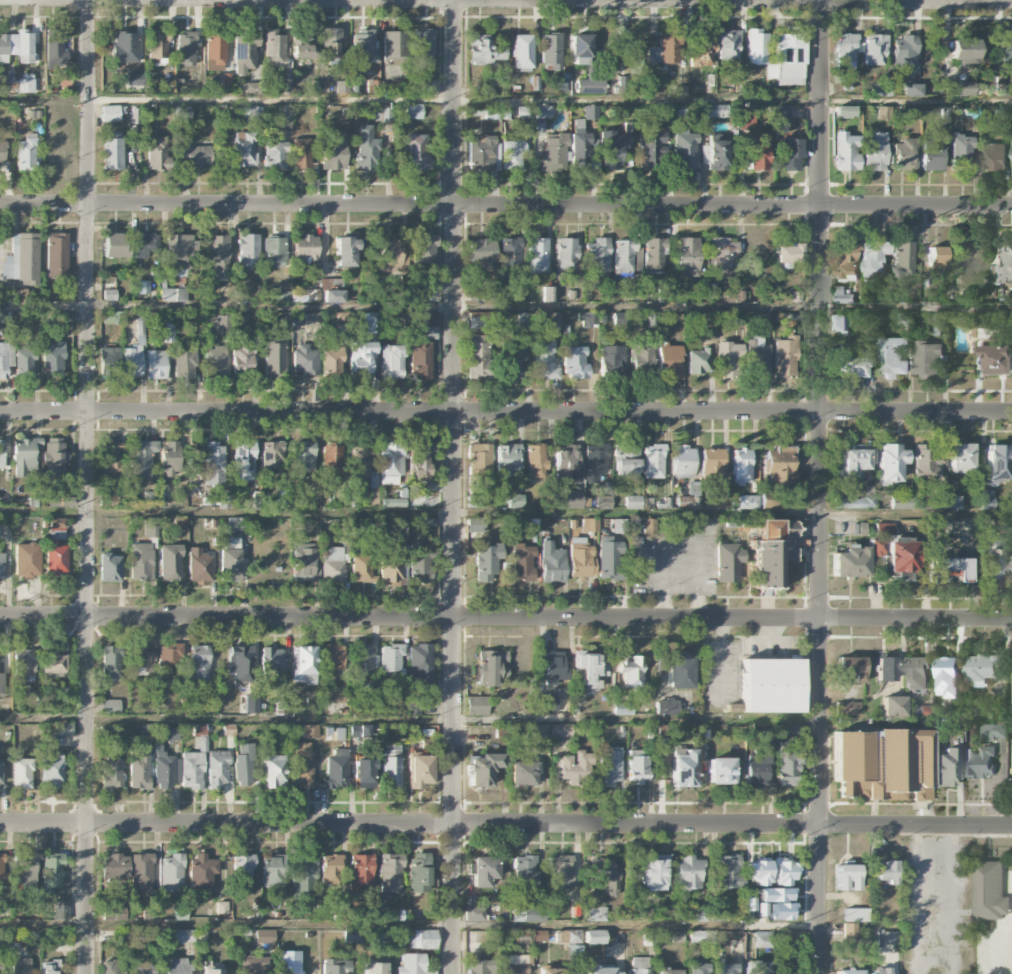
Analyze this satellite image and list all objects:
road: (916, 0)
building: (331, 43)
building: (728, 44)
building: (393, 45)
building: (423, 45)
building: (302, 46)
building: (756, 46)
building: (18, 47)
building: (125, 47)
building: (158, 47)
building: (845, 47)
building: (54, 48)
building: (185, 48)
building: (363, 48)
building: (666, 48)
building: (702, 48)
building: (274, 49)
building: (580, 49)
building: (966, 49)
building: (874, 50)
building: (484, 51)
building: (1008, 51)
building: (215, 52)
building: (243, 52)
building: (551, 52)
building: (904, 52)
building: (787, 60)
building: (845, 65)
building: (133, 79)
building: (998, 82)
building: (2, 84)
building: (286, 85)
building: (561, 85)
building: (25, 86)
building: (590, 86)
building: (962, 88)
building: (912, 90)
road: (550, 99)
building: (715, 111)
building: (844, 111)
building: (542, 112)
building: (111, 113)
building: (183, 113)
building: (382, 114)
building: (781, 114)
building: (413, 115)
building: (747, 117)
building: (650, 145)
building: (579, 146)
building: (614, 147)
building: (113, 150)
building: (244, 150)
building: (684, 150)
building: (332, 151)
building: (415, 151)
building: (846, 151)
building: (2, 152)
building: (156, 152)
building: (554, 152)
building: (873, 152)
building: (961, 152)
building: (26, 153)
building: (275, 153)
building: (300, 153)
building: (367, 153)
building: (482, 153)
building: (755, 154)
building: (789, 154)
building: (905, 154)
building: (716, 155)
building: (195, 156)
building: (512, 156)
building: (931, 156)
building: (993, 157)
road: (505, 206)
building: (115, 245)
building: (145, 245)
building: (305, 247)
building: (423, 249)
building: (274, 251)
building: (247, 252)
building: (345, 252)
building: (178, 253)
building: (391, 253)
building: (481, 253)
building: (566, 254)
building: (56, 255)
building: (598, 255)
building: (654, 255)
building: (787, 255)
building: (537, 256)
building: (624, 256)
building: (687, 256)
building: (937, 256)
building: (217, 257)
building: (638, 257)
building: (512, 258)
building: (22, 259)
building: (723, 259)
building: (873, 259)
building: (904, 259)
building: (846, 260)
building: (1004, 267)
building: (143, 287)
building: (396, 291)
building: (109, 294)
building: (173, 295)
building: (333, 295)
building: (283, 296)
building: (735, 297)
road: (505, 308)
building: (112, 317)
building: (938, 317)
building: (310, 319)
building: (553, 319)
building: (588, 319)
building: (484, 320)
building: (526, 320)
building: (985, 320)
building: (6, 321)
building: (372, 323)
building: (429, 323)
building: (841, 323)
building: (222, 324)
building: (134, 353)
building: (756, 354)
building: (477, 357)
building: (5, 358)
building: (52, 358)
building: (360, 358)
building: (784, 358)
building: (892, 358)
building: (243, 359)
building: (305, 359)
building: (728, 359)
building: (928, 359)
building: (998, 359)
building: (419, 360)
building: (545, 360)
building: (184, 361)
building: (274, 361)
building: (515, 361)
building: (645, 361)
building: (699, 361)
building: (24, 362)
building: (108, 362)
building: (215, 362)
building: (391, 362)
building: (575, 362)
building: (612, 362)
building: (670, 362)
building: (332, 363)
building: (155, 364)
building: (853, 367)
road: (506, 412)
building: (1, 454)
building: (24, 455)
building: (961, 455)
building: (112, 456)
building: (170, 456)
building: (272, 456)
building: (142, 457)
building: (597, 457)
building: (302, 459)
building: (332, 459)
building: (359, 459)
building: (421, 459)
building: (243, 460)
building: (536, 460)
building: (853, 460)
building: (391, 461)
building: (507, 461)
building: (653, 461)
building: (926, 461)
building: (997, 461)
building: (479, 462)
building: (683, 462)
building: (56, 463)
building: (889, 463)
building: (214, 464)
building: (569, 464)
building: (780, 465)
building: (712, 466)
building: (741, 466)
building: (627, 467)
road: (87, 486)
road: (454, 486)
road: (820, 487)
building: (603, 497)
building: (568, 499)
building: (987, 499)
building: (60, 501)
building: (224, 501)
building: (256, 501)
building: (424, 501)
building: (474, 501)
building: (515, 501)
building: (934, 501)
building: (633, 502)
building: (693, 502)
building: (717, 502)
building: (748, 502)
building: (953, 502)
building: (394, 503)
building: (854, 503)
road: (506, 514)
building: (180, 523)
building: (236, 524)
building: (474, 524)
building: (590, 525)
building: (997, 525)
building: (616, 526)
building: (649, 527)
building: (150, 528)
building: (877, 547)
building: (56, 548)
building: (772, 551)
building: (899, 557)
building: (581, 559)
building: (610, 559)
building: (27, 560)
building: (486, 561)
building: (1010, 561)
building: (141, 562)
building: (304, 562)
building: (523, 562)
building: (728, 562)
building: (850, 562)
building: (170, 563)
building: (551, 563)
building: (229, 564)
building: (421, 564)
building: (333, 565)
building: (391, 565)
building: (2, 566)
building: (199, 566)
building: (110, 567)
building: (361, 568)
building: (948, 569)
road: (506, 614)
building: (333, 656)
building: (390, 657)
building: (141, 658)
building: (362, 658)
building: (272, 660)
building: (111, 661)
building: (170, 662)
building: (240, 663)
building: (419, 663)
building: (303, 664)
building: (23, 665)
building: (54, 665)
building: (199, 666)
building: (490, 668)
building: (555, 668)
building: (851, 668)
building: (887, 668)
building: (590, 669)
building: (980, 669)
building: (631, 670)
building: (679, 671)
building: (917, 674)
building: (946, 676)
building: (770, 686)
building: (548, 703)
building: (252, 704)
building: (477, 705)
building: (110, 706)
building: (893, 706)
building: (667, 707)
building: (623, 708)
building: (847, 708)
road: (43, 719)
road: (548, 720)
building: (63, 729)
building: (200, 730)
building: (560, 730)
building: (537, 731)
building: (661, 731)
building: (994, 731)
building: (147, 732)
building: (170, 734)
building: (309, 734)
building: (200, 743)
building: (980, 762)
building: (302, 764)
building: (882, 764)
building: (391, 765)
building: (786, 765)
building: (610, 766)
building: (637, 767)
building: (139, 768)
building: (576, 768)
building: (756, 768)
building: (947, 768)
building: (217, 769)
building: (483, 769)
building: (683, 769)
building: (165, 770)
building: (191, 770)
building: (336, 770)
building: (719, 770)
building: (53, 771)
building: (242, 771)
building: (272, 771)
building: (420, 771)
building: (0, 772)
building: (112, 772)
building: (22, 773)
building: (364, 773)
building: (523, 773)
road: (506, 823)
building: (105, 867)
building: (119, 867)
building: (330, 869)
building: (2, 870)
building: (24, 870)
building: (202, 870)
building: (51, 871)
building: (484, 871)
building: (525, 871)
building: (560, 871)
building: (728, 871)
building: (141, 872)
building: (172, 872)
building: (272, 872)
building: (419, 872)
building: (886, 872)
building: (390, 873)
building: (688, 873)
building: (243, 874)
building: (361, 874)
building: (605, 875)
building: (652, 875)
building: (302, 876)
building: (847, 877)
building: (991, 891)
road: (917, 899)
road: (953, 900)
building: (221, 908)
building: (563, 908)
building: (61, 909)
building: (113, 910)
building: (180, 912)
building: (339, 914)
building: (474, 914)
building: (529, 914)
building: (595, 914)
building: (855, 914)
road: (409, 925)
building: (382, 935)
building: (176, 936)
building: (264, 936)
building: (352, 936)
building: (533, 936)
building: (574, 936)
building: (677, 936)
building: (701, 936)
building: (594, 937)
building: (884, 938)
building: (423, 939)
building: (763, 939)
building: (576, 952)
road: (900, 957)
building: (289, 962)
building: (412, 964)
building: (515, 964)
building: (212, 965)
building: (254, 965)
building: (21, 966)
building: (176, 966)
building: (639, 966)
building: (50, 967)
building: (112, 967)
building: (143, 967)
building: (336, 967)
building: (481, 967)
building: (756, 967)
building: (374, 968)
building: (696, 968)
building: (726, 968)
building: (601, 970)
building: (211, 971)
building: (554, 971)
building: (667, 971)
building: (848, 971)
building: (879, 971)

